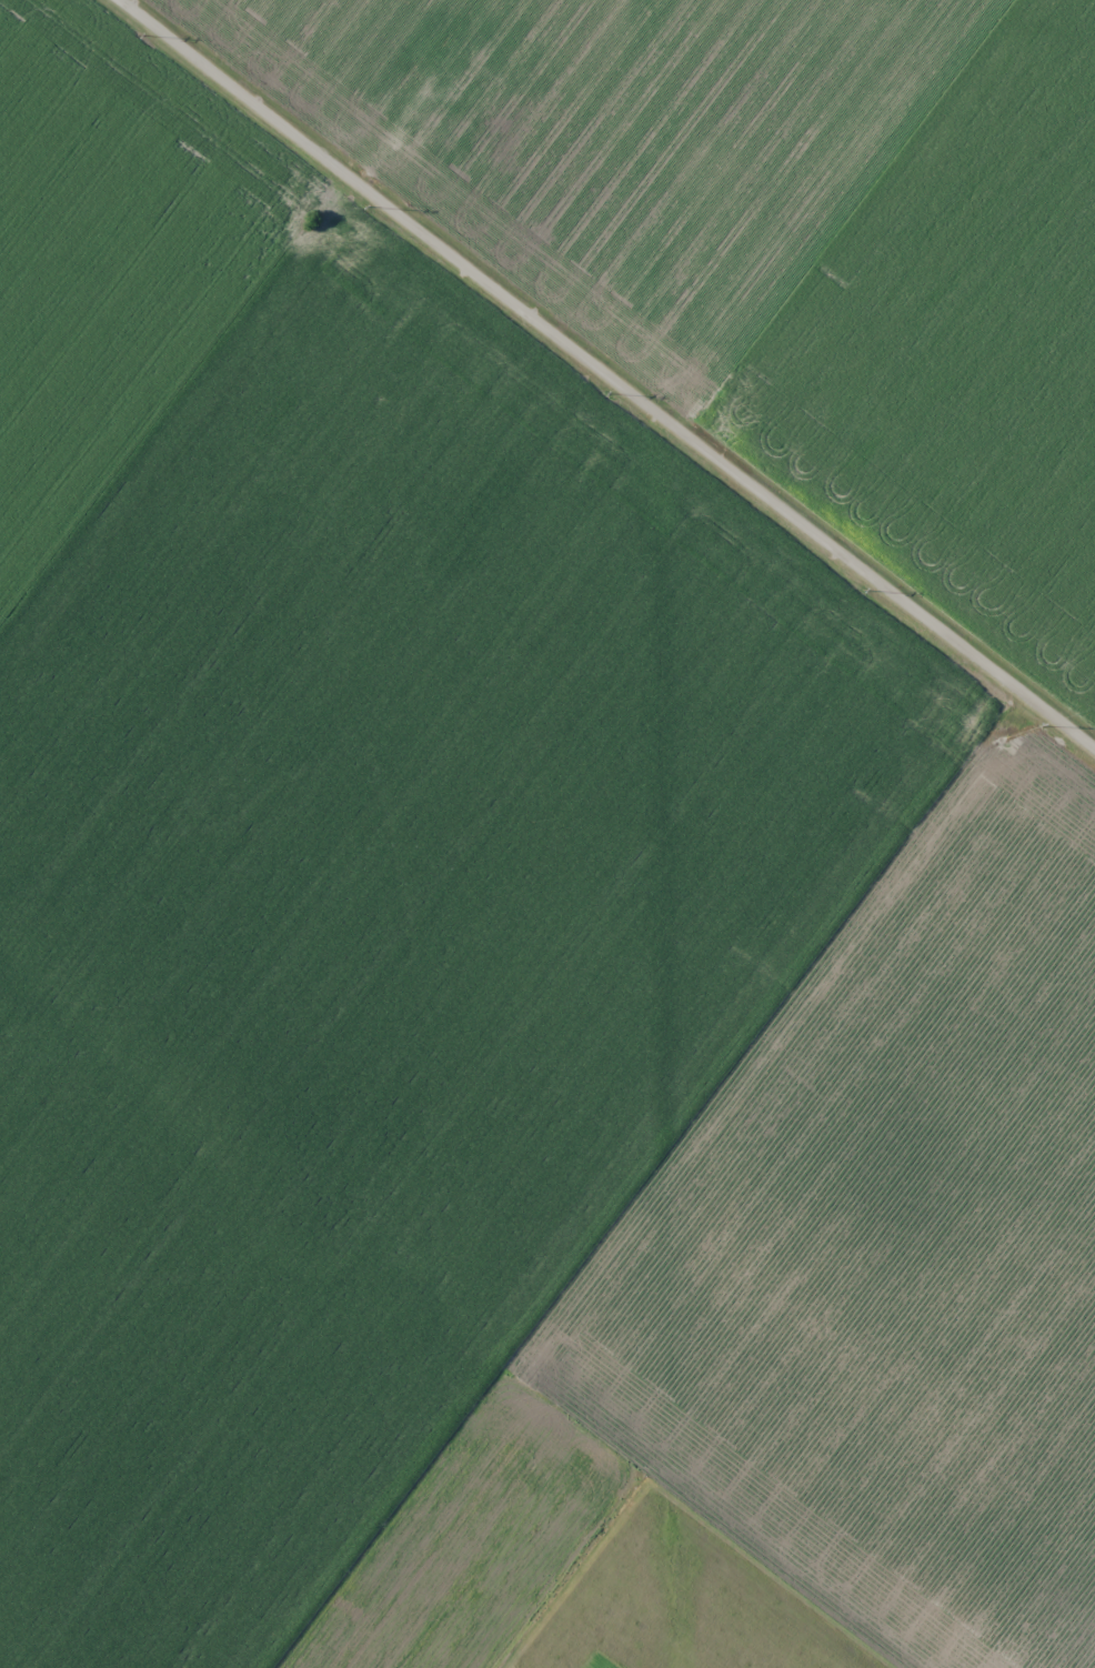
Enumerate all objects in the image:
road: (606, 376)

